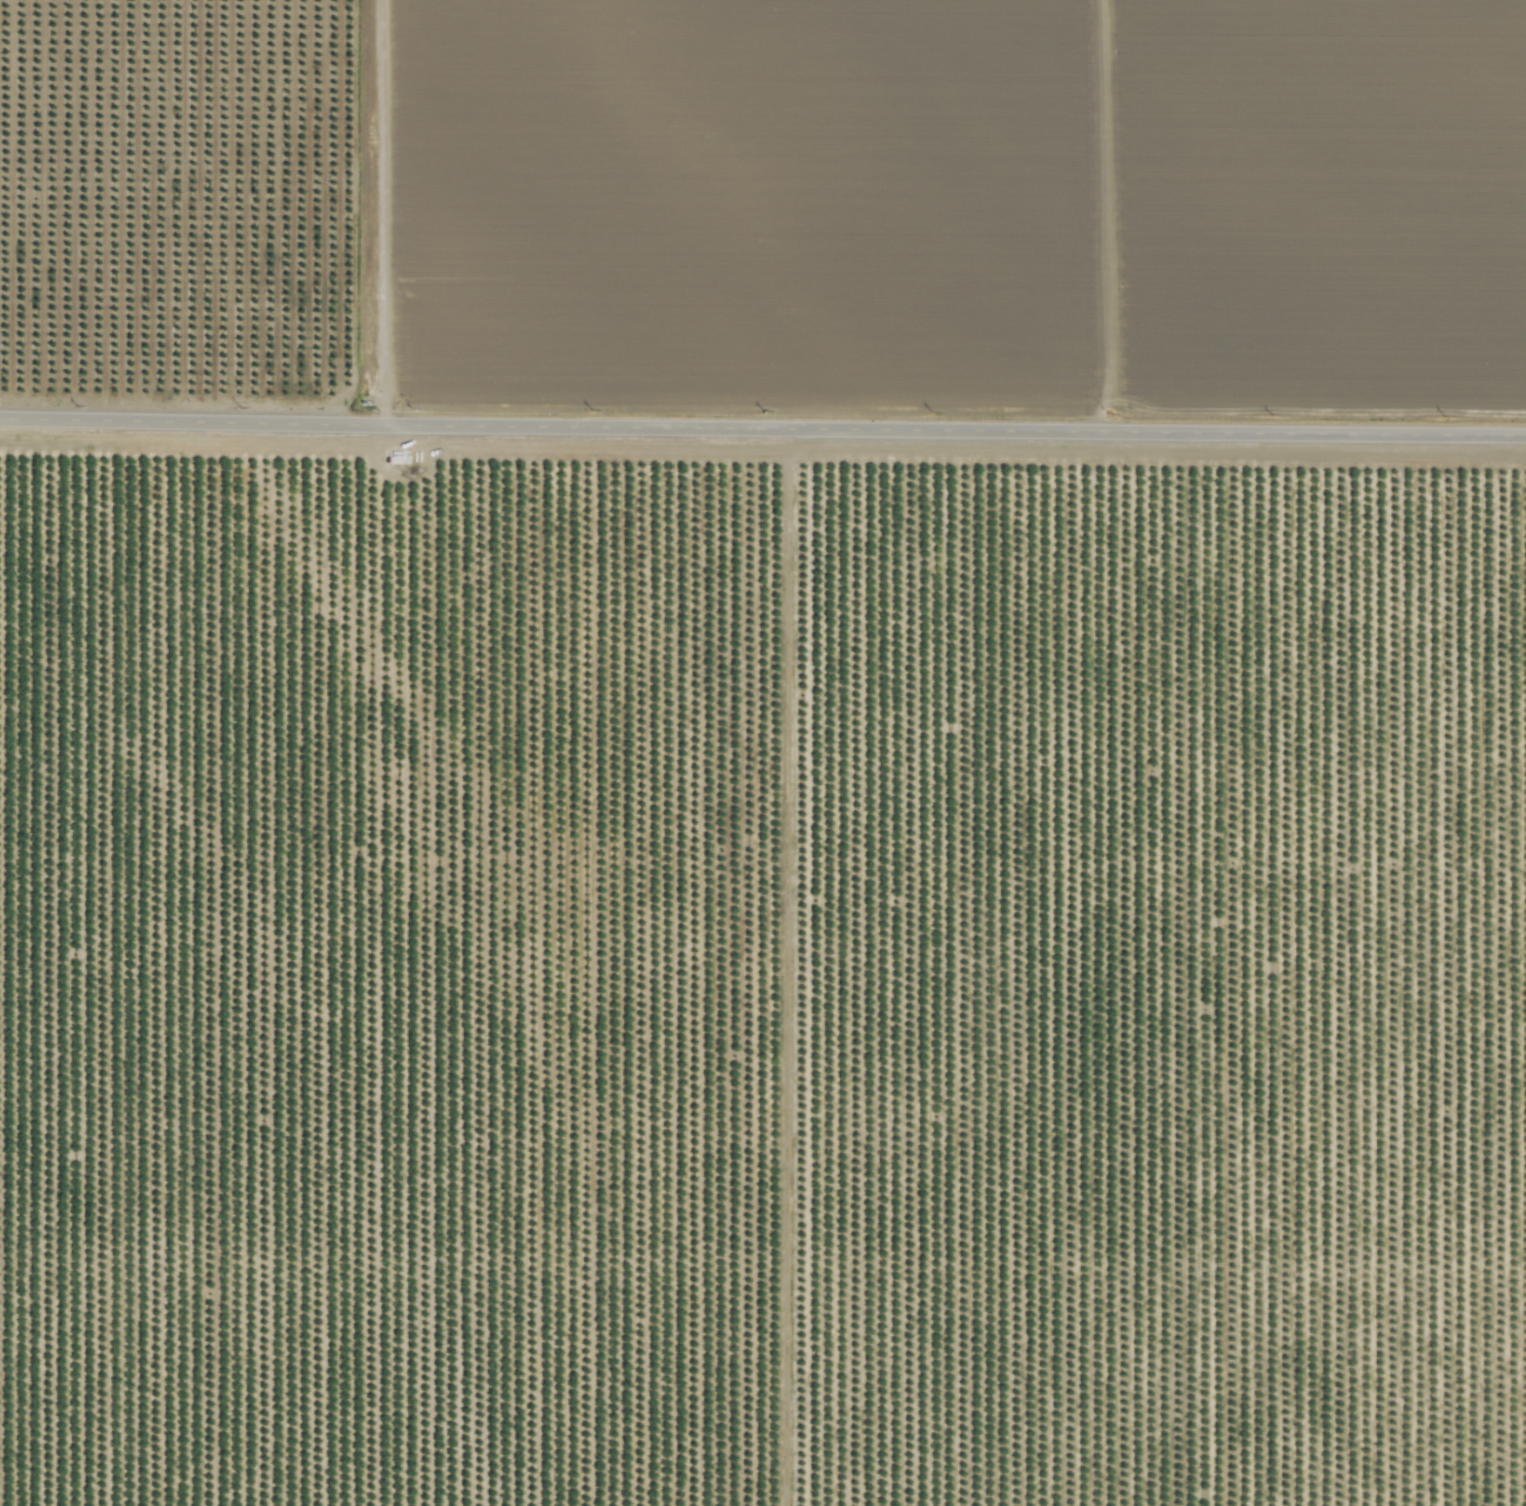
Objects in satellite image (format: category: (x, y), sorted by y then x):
road: (375, 213)
road: (762, 430)
road: (807, 968)

